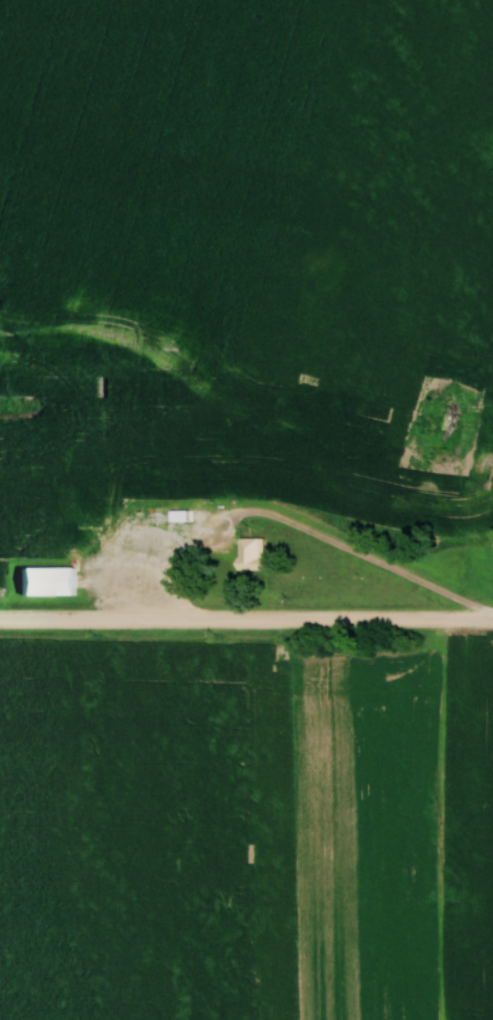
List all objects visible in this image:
building: (247, 554)
building: (44, 578)
road: (171, 616)
road: (417, 618)

